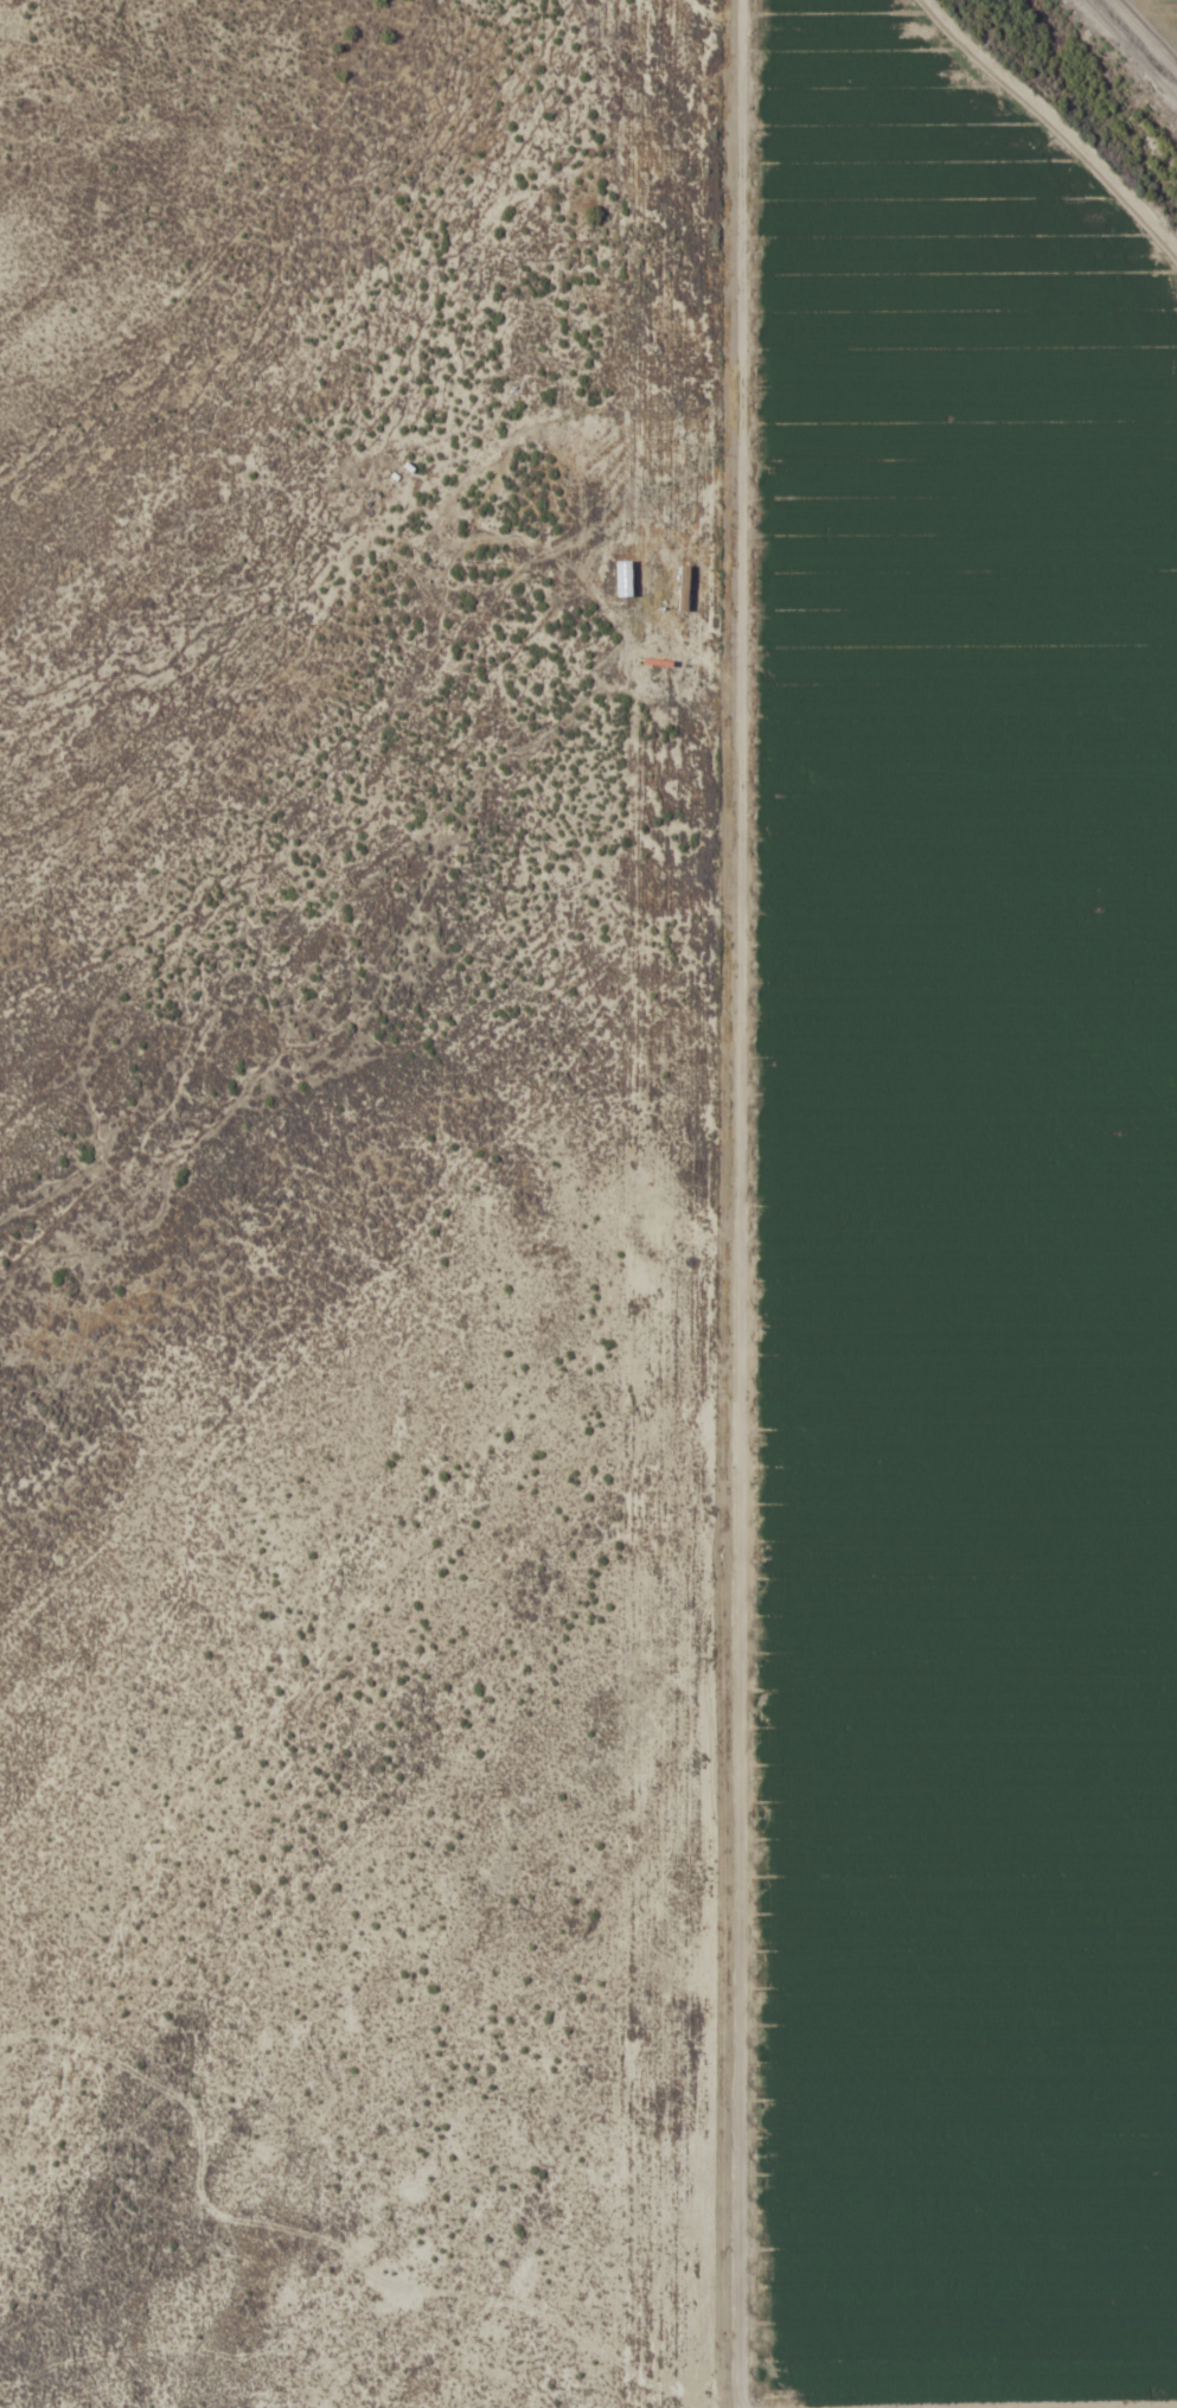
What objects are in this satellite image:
road: (1117, 102)
crop: (588, 1203)

